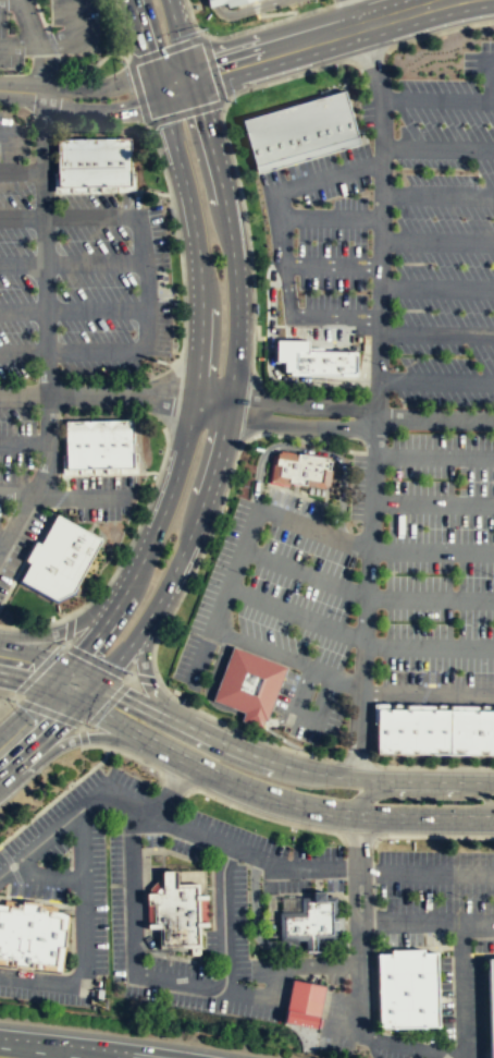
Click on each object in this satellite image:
road: (446, 0)
building: (232, 1)
road: (341, 2)
road: (243, 11)
road: (356, 13)
road: (73, 17)
road: (32, 23)
road: (268, 23)
street lamp: (242, 27)
street lamp: (205, 29)
road: (439, 32)
road: (180, 38)
road: (320, 38)
road: (59, 40)
road: (22, 46)
road: (42, 70)
road: (172, 75)
traffic signals: (190, 76)
road: (489, 77)
street lamp: (478, 83)
road: (98, 87)
road: (175, 87)
road: (21, 92)
road: (436, 100)
road: (153, 101)
road: (91, 111)
building: (300, 127)
road: (7, 147)
road: (437, 149)
building: (94, 162)
road: (234, 168)
street lamp: (419, 170)
road: (21, 171)
road: (329, 177)
road: (437, 195)
street lamp: (331, 204)
road: (330, 218)
road: (437, 241)
street lamp: (127, 242)
road: (283, 252)
road: (72, 264)
road: (332, 266)
road: (145, 284)
road: (436, 287)
street lamp: (32, 290)
street lamp: (330, 291)
road: (45, 295)
street lamp: (173, 301)
road: (74, 312)
road: (331, 314)
street lamp: (257, 320)
parking lot: (65, 330)
road: (257, 332)
street lamp: (133, 333)
road: (435, 333)
road: (270, 338)
road: (199, 344)
building: (314, 360)
street lamp: (391, 367)
road: (280, 378)
road: (435, 379)
road: (98, 394)
road: (213, 394)
road: (375, 401)
road: (304, 405)
road: (434, 419)
parking lot: (381, 424)
road: (284, 425)
road: (223, 427)
building: (99, 442)
road: (25, 443)
street lamp: (361, 443)
road: (310, 449)
road: (434, 454)
building: (304, 467)
road: (16, 491)
road: (79, 498)
road: (432, 502)
street lamp: (223, 512)
road: (16, 520)
street lamp: (330, 520)
street lamp: (101, 524)
road: (2, 543)
road: (245, 543)
road: (431, 551)
building: (60, 558)
road: (305, 571)
street lamp: (247, 574)
road: (430, 599)
road: (296, 613)
street lamp: (354, 619)
road: (35, 625)
road: (65, 629)
road: (429, 646)
road: (287, 657)
road: (22, 665)
road: (58, 669)
road: (147, 677)
building: (249, 682)
road: (53, 691)
road: (429, 694)
street lamp: (182, 697)
road: (220, 705)
road: (108, 714)
street lamp: (276, 715)
road: (305, 715)
building: (410, 731)
building: (470, 731)
road: (21, 735)
road: (81, 738)
street lamp: (311, 752)
road: (272, 763)
street lamp: (441, 764)
road: (430, 767)
road: (174, 787)
road: (415, 792)
road: (330, 807)
road: (81, 808)
road: (493, 814)
road: (430, 836)
road: (289, 865)
road: (5, 871)
road: (47, 872)
road: (427, 874)
road: (223, 881)
street lamp: (375, 895)
street lamp: (464, 897)
building: (175, 911)
building: (312, 922)
road: (427, 922)
road: (360, 923)
building: (32, 934)
road: (85, 940)
road: (417, 947)
road: (460, 950)
road: (482, 953)
road: (133, 963)
building: (405, 990)
road: (461, 990)
building: (492, 998)
building: (304, 1004)
road: (345, 1030)
road: (24, 1044)
road: (124, 1046)
road: (406, 1046)
road: (72, 1053)

